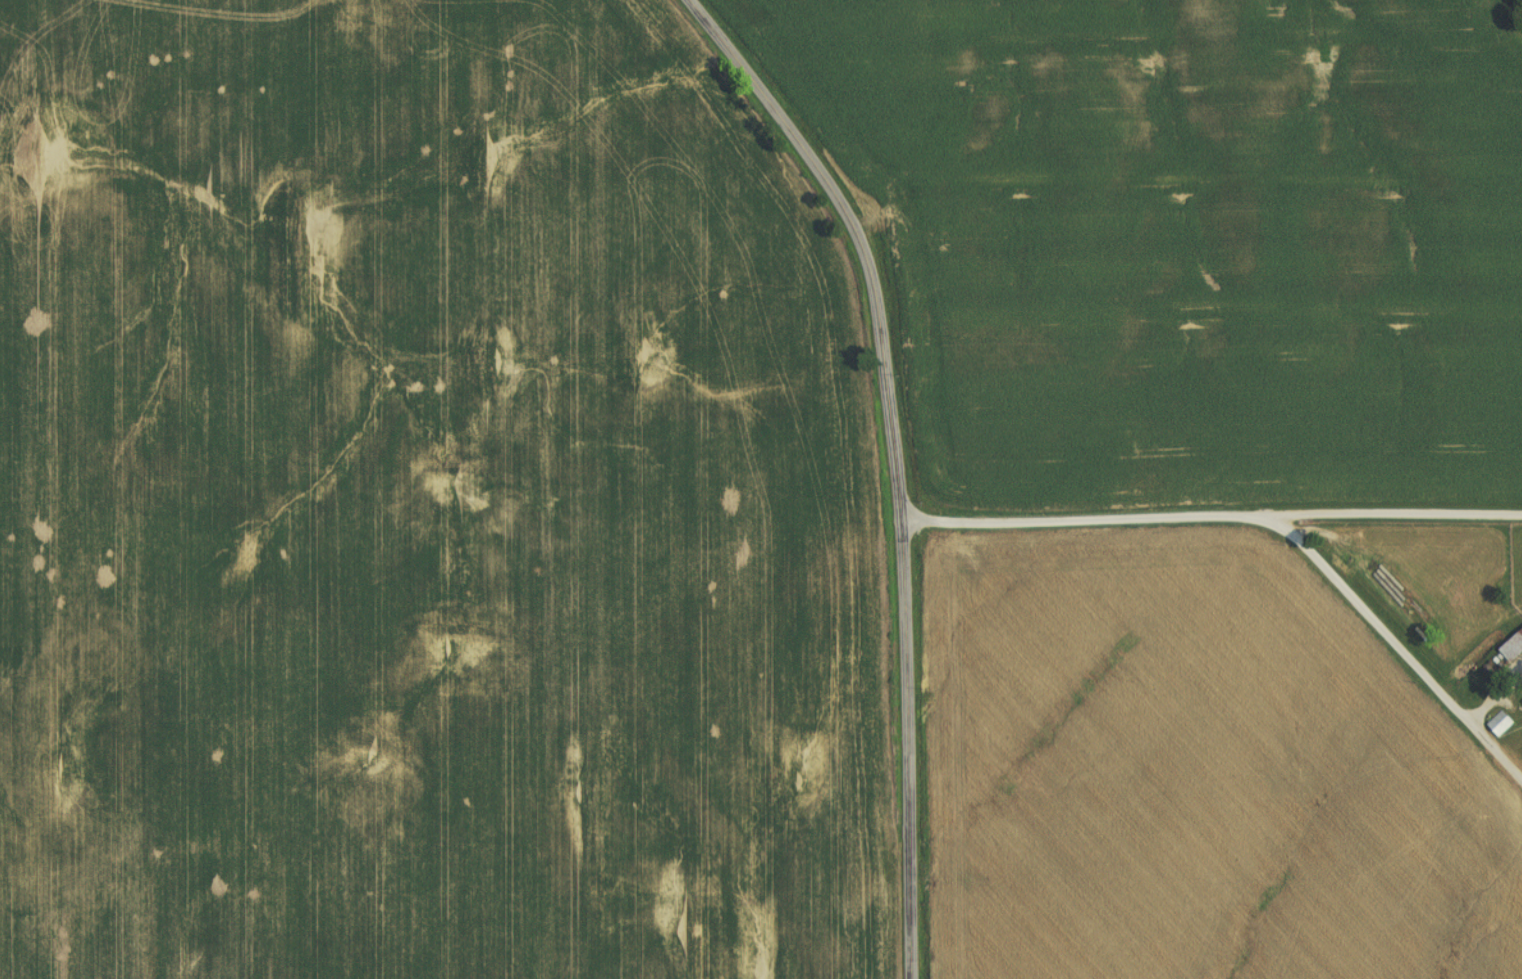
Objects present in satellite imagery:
road: (897, 461)
road: (1399, 513)
road: (1270, 520)
building: (1511, 649)
building: (1496, 726)

